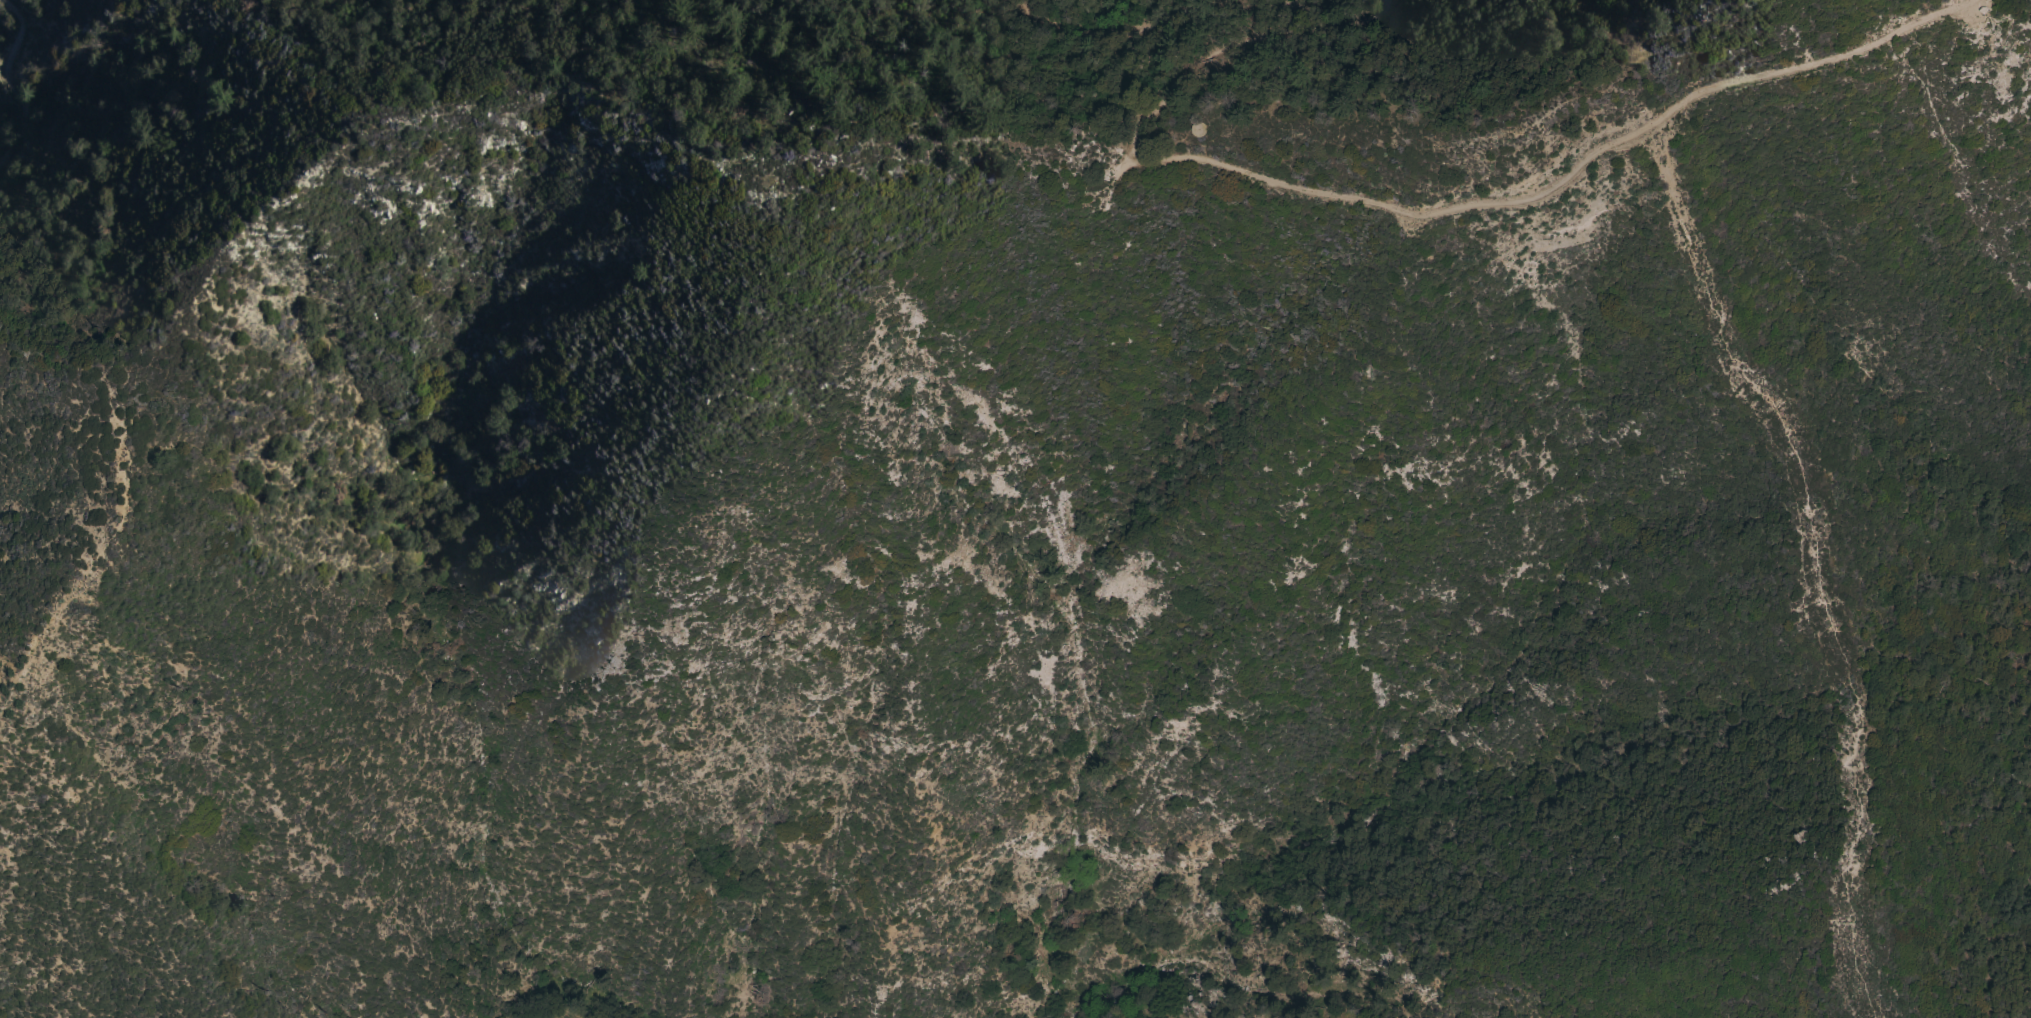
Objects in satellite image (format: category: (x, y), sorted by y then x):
road: (1163, 26)
road: (22, 82)
road: (1449, 136)
road: (1414, 213)
road: (1734, 361)
road: (1848, 813)

